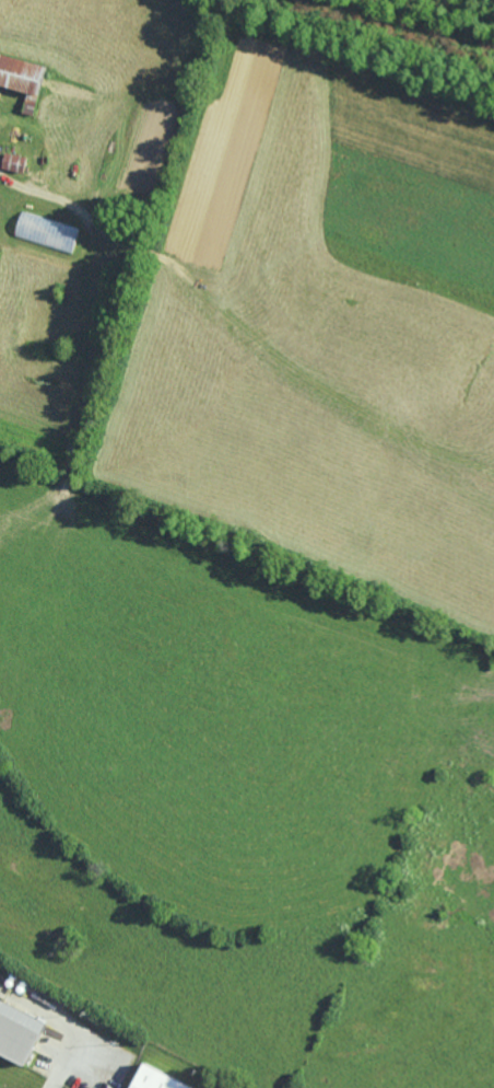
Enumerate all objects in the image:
building: (23, 79)
building: (14, 162)
road: (38, 190)
building: (47, 231)
building: (19, 1032)
building: (156, 1079)

